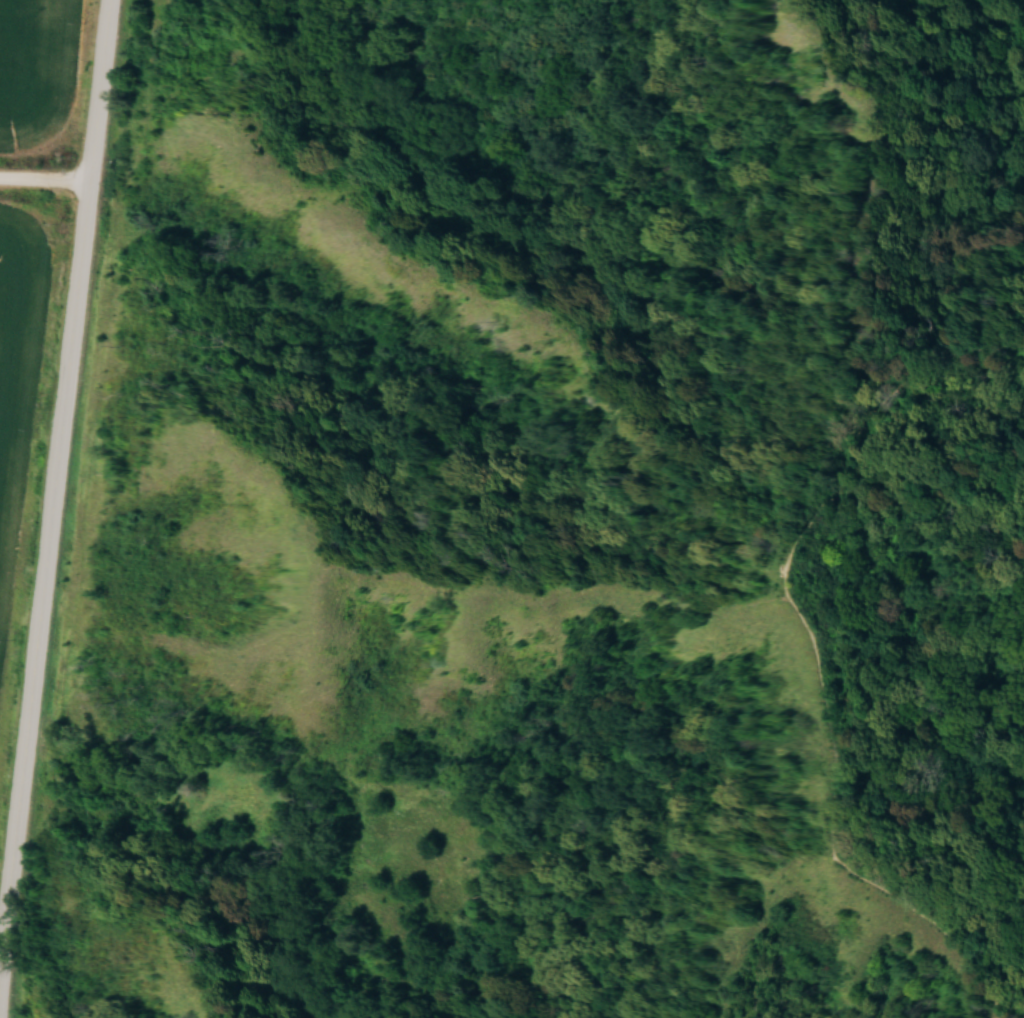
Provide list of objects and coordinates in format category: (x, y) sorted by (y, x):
road: (41, 180)
road: (50, 456)
road: (821, 650)

